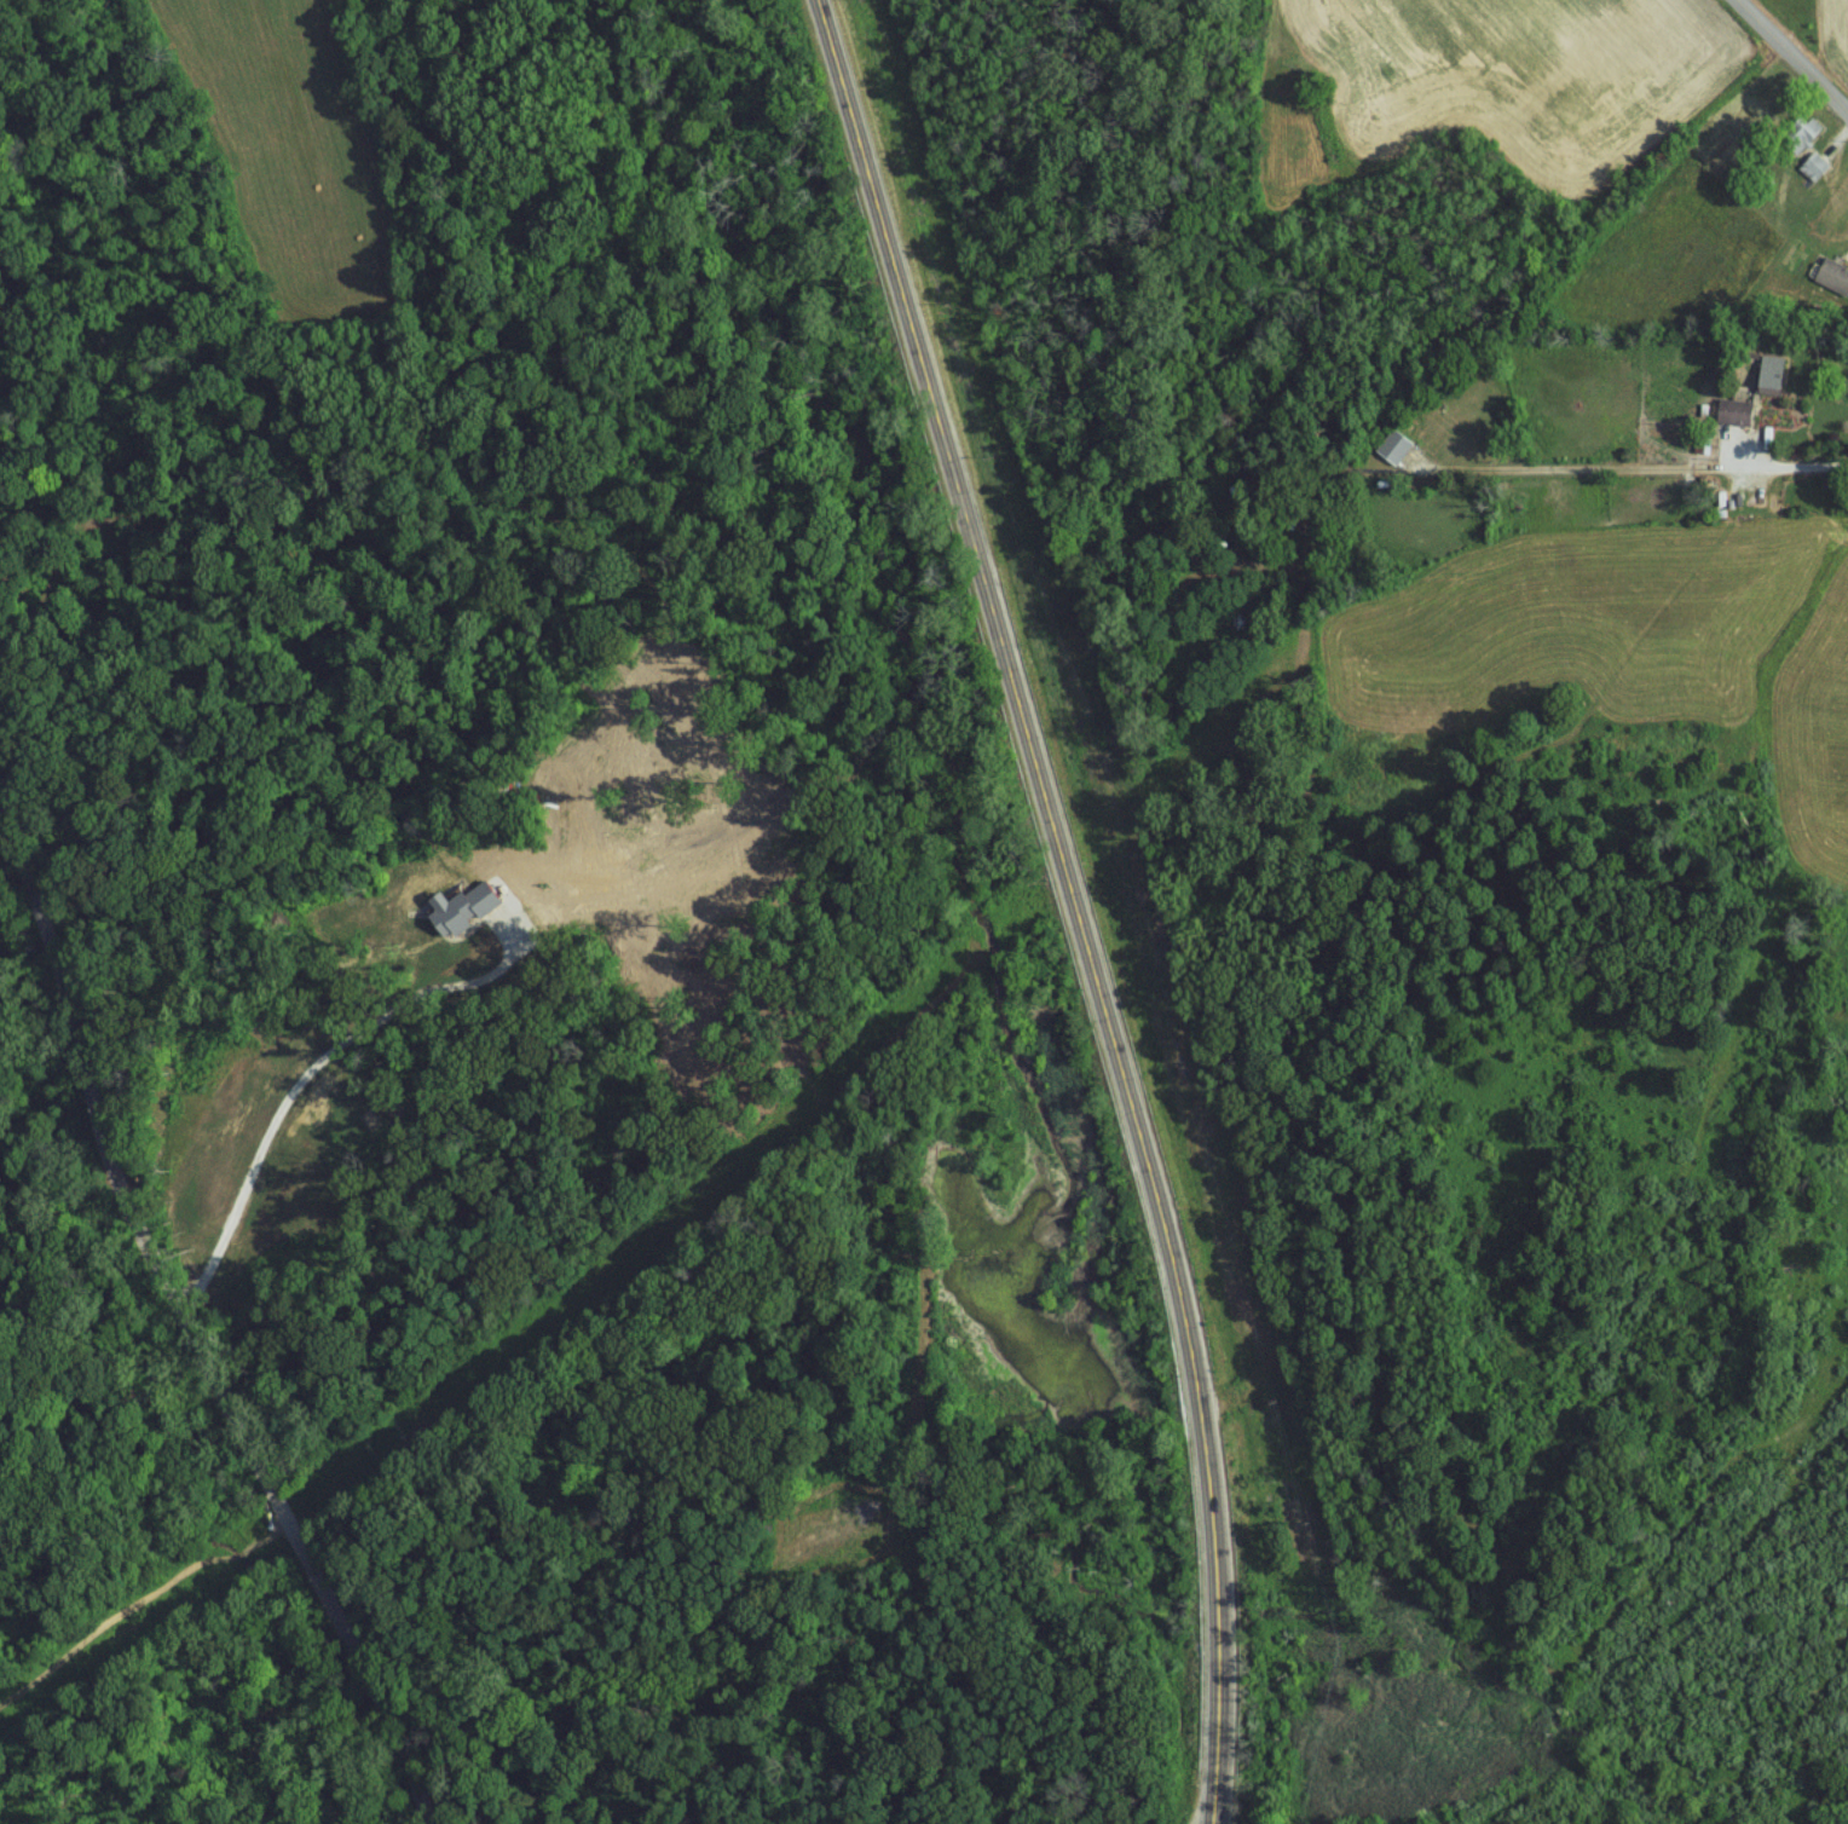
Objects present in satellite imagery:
road: (1797, 48)
building: (1806, 128)
building: (1814, 166)
building: (1833, 275)
building: (1772, 374)
building: (1736, 411)
building: (1394, 445)
road: (1632, 468)
road: (1081, 901)
building: (462, 908)
road: (196, 1328)

